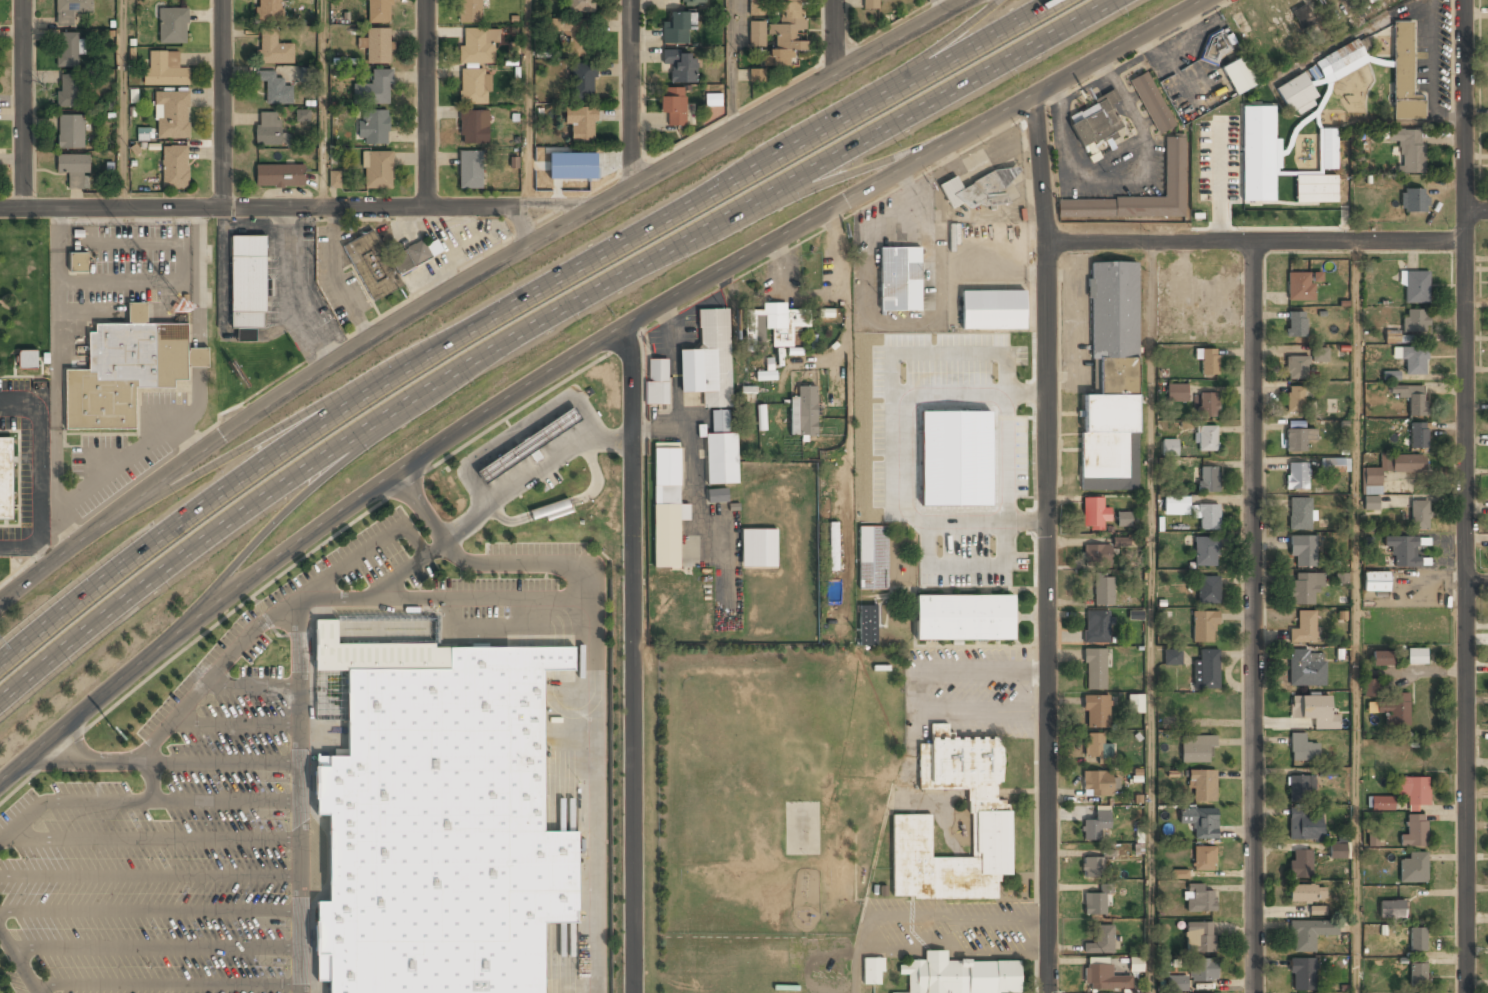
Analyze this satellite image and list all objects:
building: (693, 2)
building: (870, 4)
building: (581, 6)
road: (935, 6)
building: (757, 7)
building: (70, 10)
building: (268, 10)
building: (379, 11)
building: (470, 11)
building: (1305, 22)
building: (172, 25)
building: (676, 28)
building: (786, 32)
building: (757, 33)
building: (573, 34)
road: (835, 34)
building: (376, 45)
building: (477, 46)
building: (68, 47)
building: (1215, 47)
building: (273, 48)
building: (1339, 58)
road: (730, 64)
building: (680, 65)
road: (918, 65)
building: (165, 68)
building: (1404, 73)
building: (756, 75)
building: (1239, 76)
building: (582, 80)
building: (474, 86)
building: (274, 87)
building: (374, 88)
building: (68, 91)
road: (632, 92)
building: (1296, 93)
building: (712, 99)
building: (1152, 103)
road: (22, 104)
road: (120, 104)
road: (427, 104)
road: (222, 105)
road: (322, 105)
road: (527, 105)
building: (673, 105)
building: (172, 114)
building: (302, 115)
building: (1093, 121)
building: (580, 122)
building: (373, 127)
building: (473, 127)
building: (270, 129)
building: (70, 132)
building: (1409, 149)
building: (1259, 153)
building: (174, 167)
building: (1174, 167)
building: (73, 168)
building: (377, 169)
building: (470, 169)
building: (280, 174)
road: (844, 178)
building: (335, 179)
building: (978, 188)
building: (1316, 188)
building: (1413, 200)
road: (292, 210)
road: (1476, 211)
road: (1254, 242)
building: (78, 262)
building: (384, 263)
building: (899, 279)
road: (465, 282)
building: (247, 284)
building: (1301, 286)
building: (1415, 287)
park: (25, 299)
road: (515, 306)
building: (992, 309)
building: (774, 324)
road: (546, 325)
building: (1296, 325)
building: (1409, 326)
road: (576, 354)
building: (1319, 354)
building: (28, 358)
building: (1412, 358)
building: (708, 361)
building: (1208, 362)
building: (1295, 368)
building: (126, 369)
building: (1391, 375)
building: (1111, 380)
building: (656, 381)
building: (1177, 392)
building: (1411, 398)
building: (1295, 399)
building: (1207, 405)
building: (803, 411)
building: (761, 417)
building: (720, 421)
building: (1418, 435)
road: (610, 437)
building: (1205, 438)
building: (1297, 439)
building: (529, 444)
gas station: (529, 444)
building: (721, 445)
building: (1170, 447)
parking lot: (529, 451)
parking lot: (29, 464)
building: (1334, 464)
building: (1391, 469)
road: (210, 470)
building: (1297, 476)
building: (6, 477)
building: (1207, 479)
road: (512, 487)
building: (873, 488)
building: (717, 495)
road: (1466, 496)
building: (1370, 502)
building: (1176, 505)
building: (666, 507)
building: (550, 511)
building: (1094, 513)
building: (1300, 513)
building: (1419, 514)
building: (1208, 517)
building: (1124, 518)
road: (271, 533)
building: (834, 541)
road: (1046, 544)
building: (758, 548)
building: (1402, 549)
building: (1302, 550)
building: (1205, 551)
building: (1097, 555)
building: (871, 557)
road: (511, 564)
building: (1376, 580)
road: (1478, 584)
building: (1304, 587)
building: (1207, 590)
building: (1102, 591)
road: (300, 599)
building: (964, 617)
road: (1256, 617)
road: (1356, 617)
road: (1151, 618)
building: (868, 625)
building: (1204, 626)
building: (1096, 627)
building: (1303, 628)
building: (1416, 655)
building: (1172, 656)
building: (1380, 657)
road: (633, 659)
building: (1306, 667)
building: (1207, 668)
building: (1095, 669)
building: (1369, 687)
building: (1135, 703)
building: (1393, 708)
building: (1097, 711)
building: (1313, 711)
building: (1096, 746)
building: (1197, 749)
building: (1302, 749)
road: (103, 758)
road: (92, 767)
building: (1098, 783)
building: (1202, 785)
building: (1300, 786)
building: (1412, 788)
parking lot: (224, 796)
road: (88, 801)
building: (1381, 801)
road: (300, 804)
building: (1199, 820)
building: (436, 822)
building: (1303, 823)
building: (1096, 825)
building: (1415, 830)
building: (990, 835)
building: (1337, 850)
building: (1203, 858)
building: (1300, 863)
building: (1092, 867)
building: (1413, 867)
building: (1179, 874)
building: (1307, 893)
building: (1198, 898)
building: (1094, 903)
building: (1392, 908)
building: (1317, 910)
building: (1308, 933)
building: (1198, 936)
building: (1417, 939)
building: (1100, 940)
road: (17, 963)
building: (1136, 964)
building: (1203, 969)
building: (872, 971)
building: (1303, 973)
building: (1417, 974)
building: (961, 975)
building: (1104, 978)
building: (1176, 983)
building: (894, 992)

